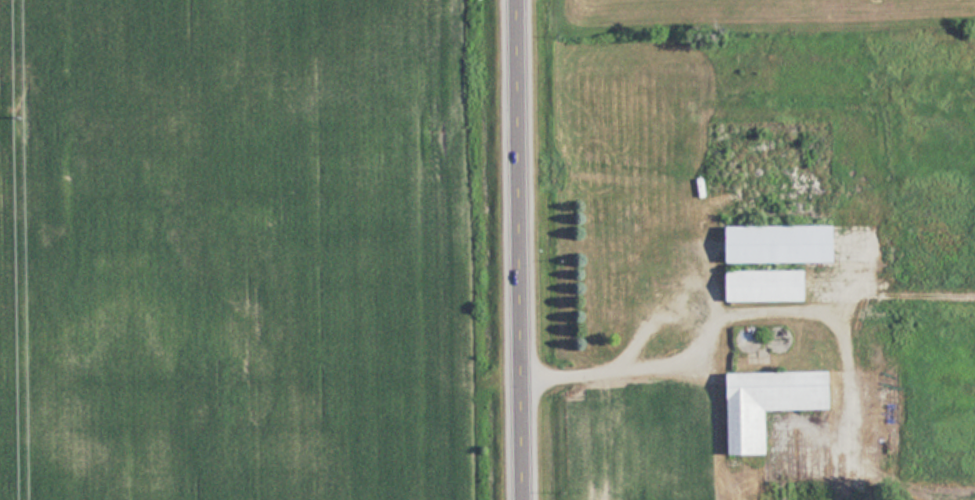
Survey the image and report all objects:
power tower: (22, 118)
building: (785, 244)
road: (522, 249)
building: (769, 286)
building: (652, 295)
building: (774, 402)

